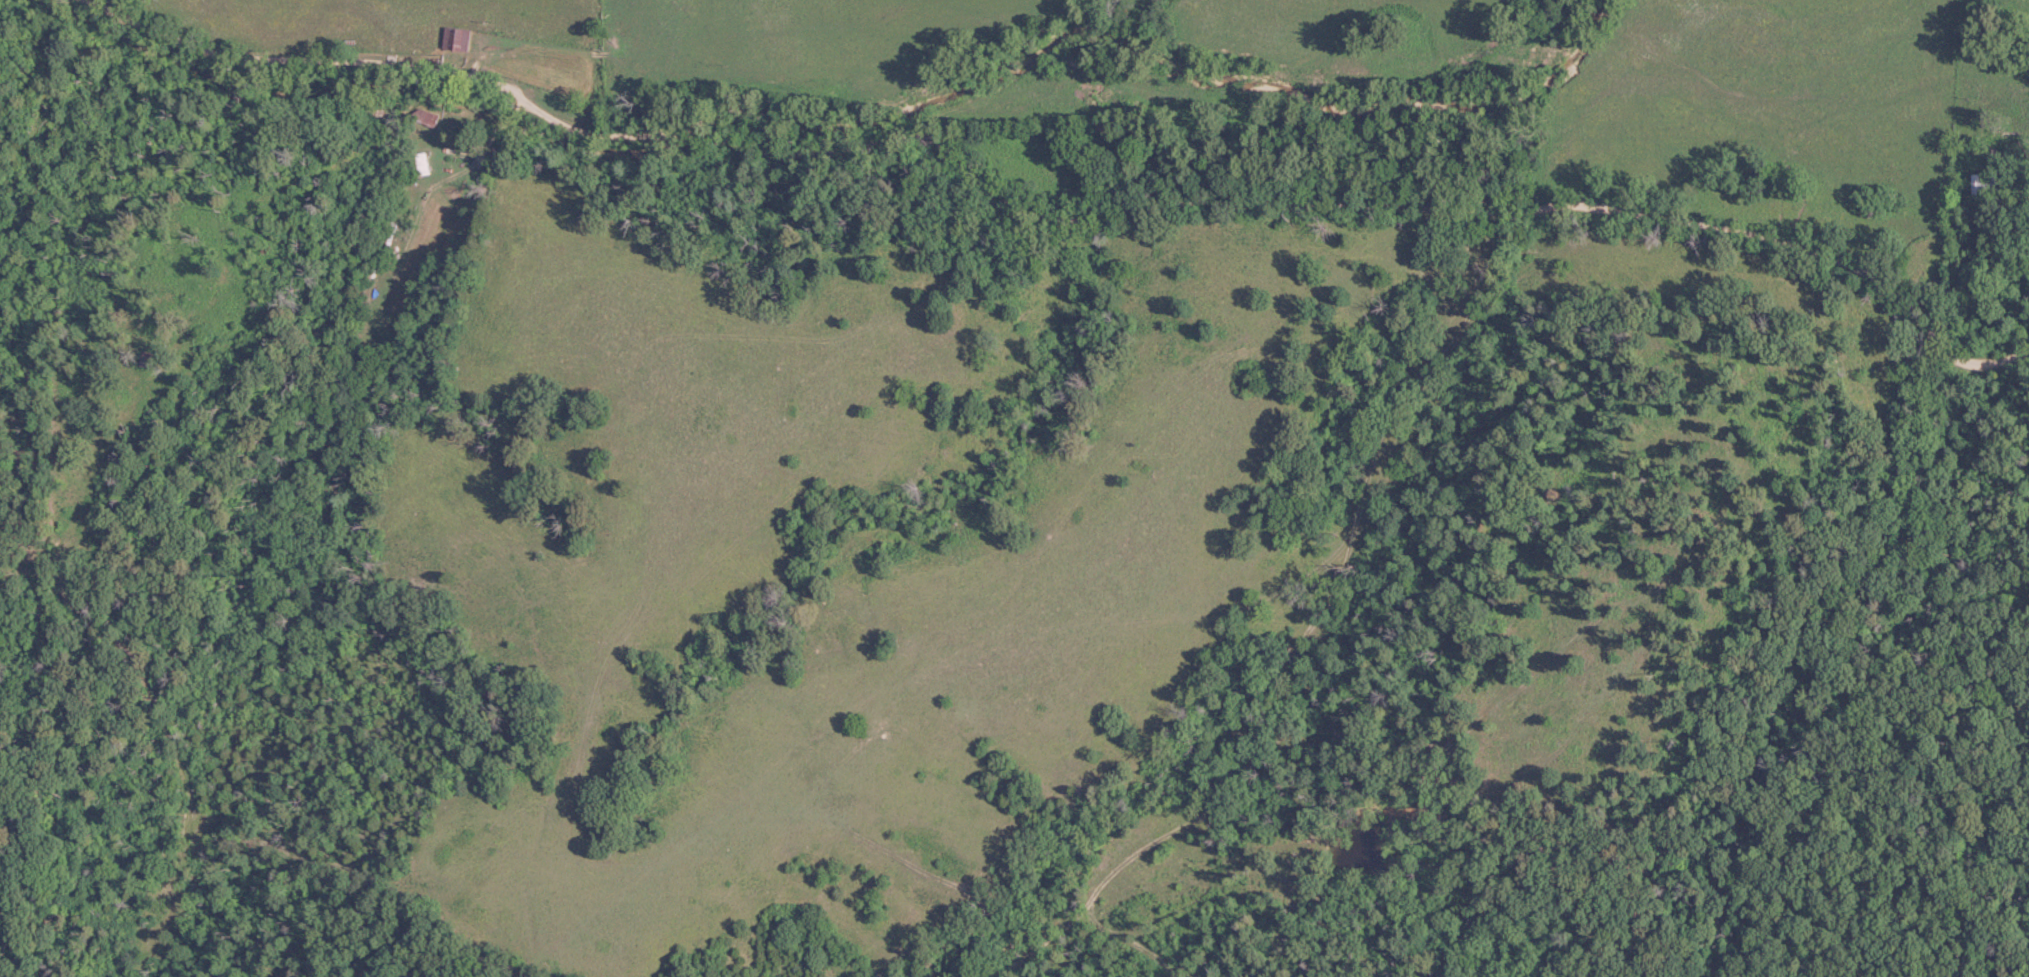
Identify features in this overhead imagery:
building: (458, 40)
building: (420, 166)
building: (1980, 186)
road: (1062, 196)

